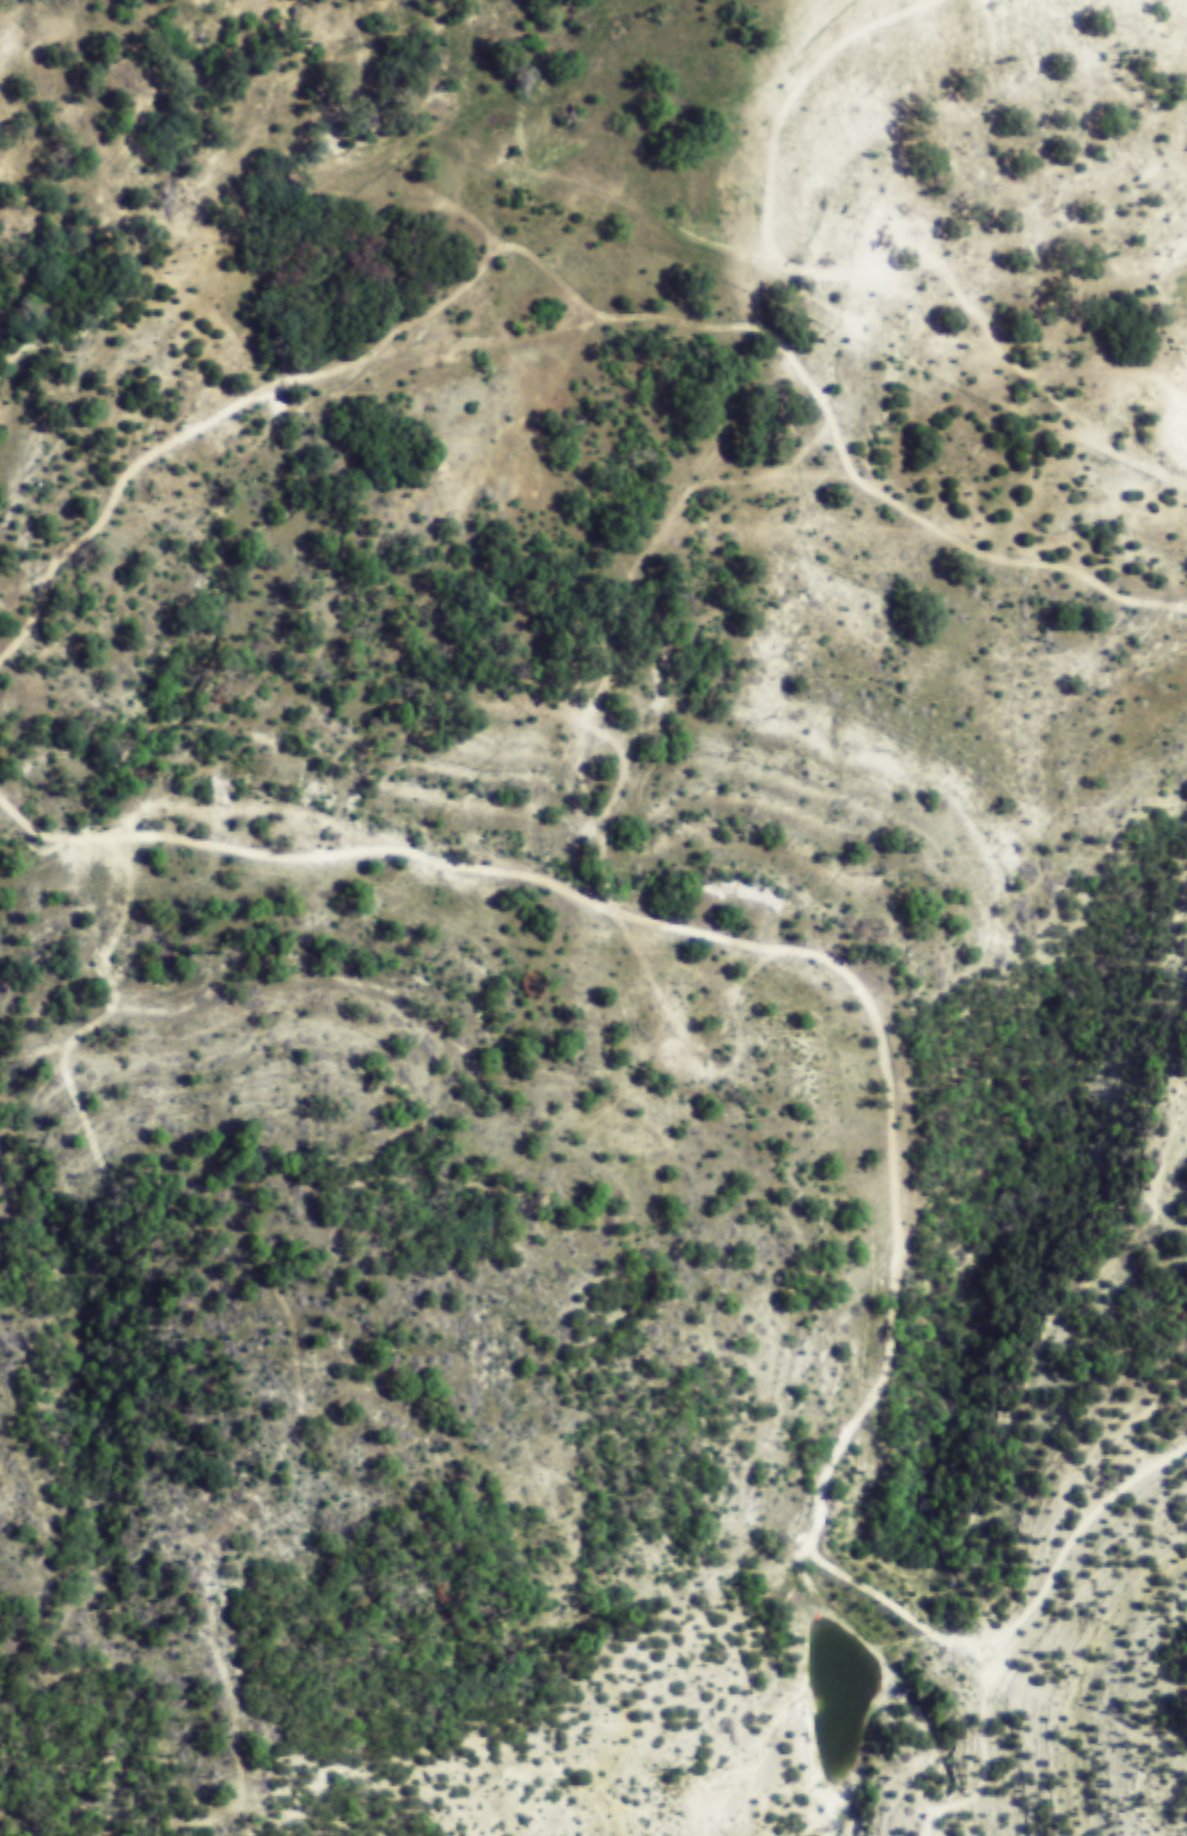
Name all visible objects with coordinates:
road: (766, 342)

